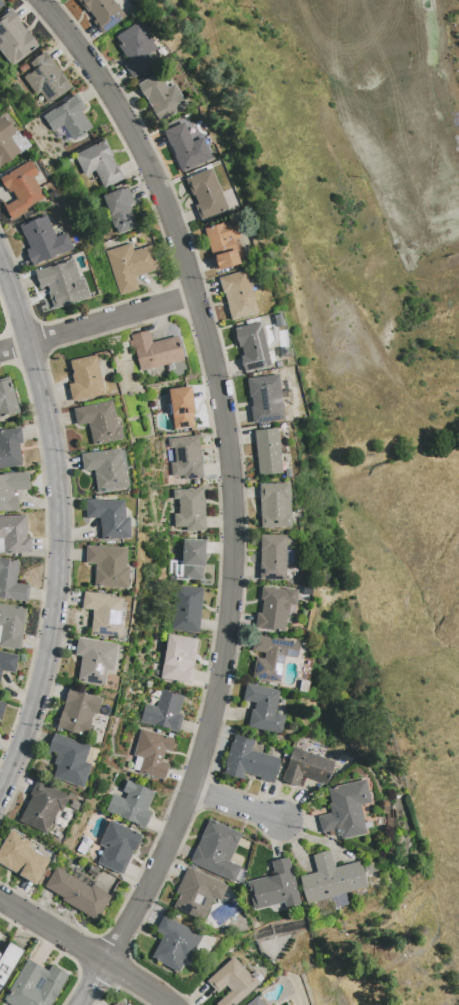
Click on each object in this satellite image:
building: (0, 3)
building: (0, 6)
building: (101, 13)
building: (13, 39)
building: (134, 49)
building: (45, 78)
building: (160, 97)
building: (67, 119)
building: (10, 143)
building: (184, 147)
building: (98, 163)
building: (20, 189)
building: (204, 194)
building: (119, 209)
building: (42, 241)
building: (221, 244)
building: (129, 265)
building: (61, 283)
building: (236, 295)
road: (15, 298)
road: (97, 323)
building: (250, 346)
building: (154, 351)
building: (83, 379)
building: (6, 398)
building: (263, 399)
building: (180, 407)
building: (97, 422)
building: (9, 447)
building: (266, 451)
building: (185, 457)
building: (104, 469)
building: (11, 488)
road: (232, 496)
building: (273, 505)
building: (189, 509)
building: (108, 518)
building: (14, 535)
building: (271, 557)
building: (191, 559)
building: (107, 566)
road: (58, 569)
building: (11, 582)
building: (274, 608)
building: (186, 609)
building: (102, 613)
building: (11, 625)
building: (270, 656)
building: (177, 658)
building: (94, 660)
building: (7, 662)
building: (1, 707)
building: (263, 708)
building: (76, 712)
building: (163, 712)
building: (150, 753)
building: (68, 760)
building: (248, 761)
building: (305, 768)
building: (130, 804)
road: (238, 805)
building: (41, 807)
building: (344, 810)
building: (116, 847)
building: (215, 850)
building: (20, 858)
building: (329, 879)
building: (273, 887)
building: (196, 893)
building: (76, 894)
building: (173, 943)
road: (86, 949)
building: (7, 959)
building: (231, 982)
building: (34, 985)
building: (254, 1001)
building: (118, 1003)

